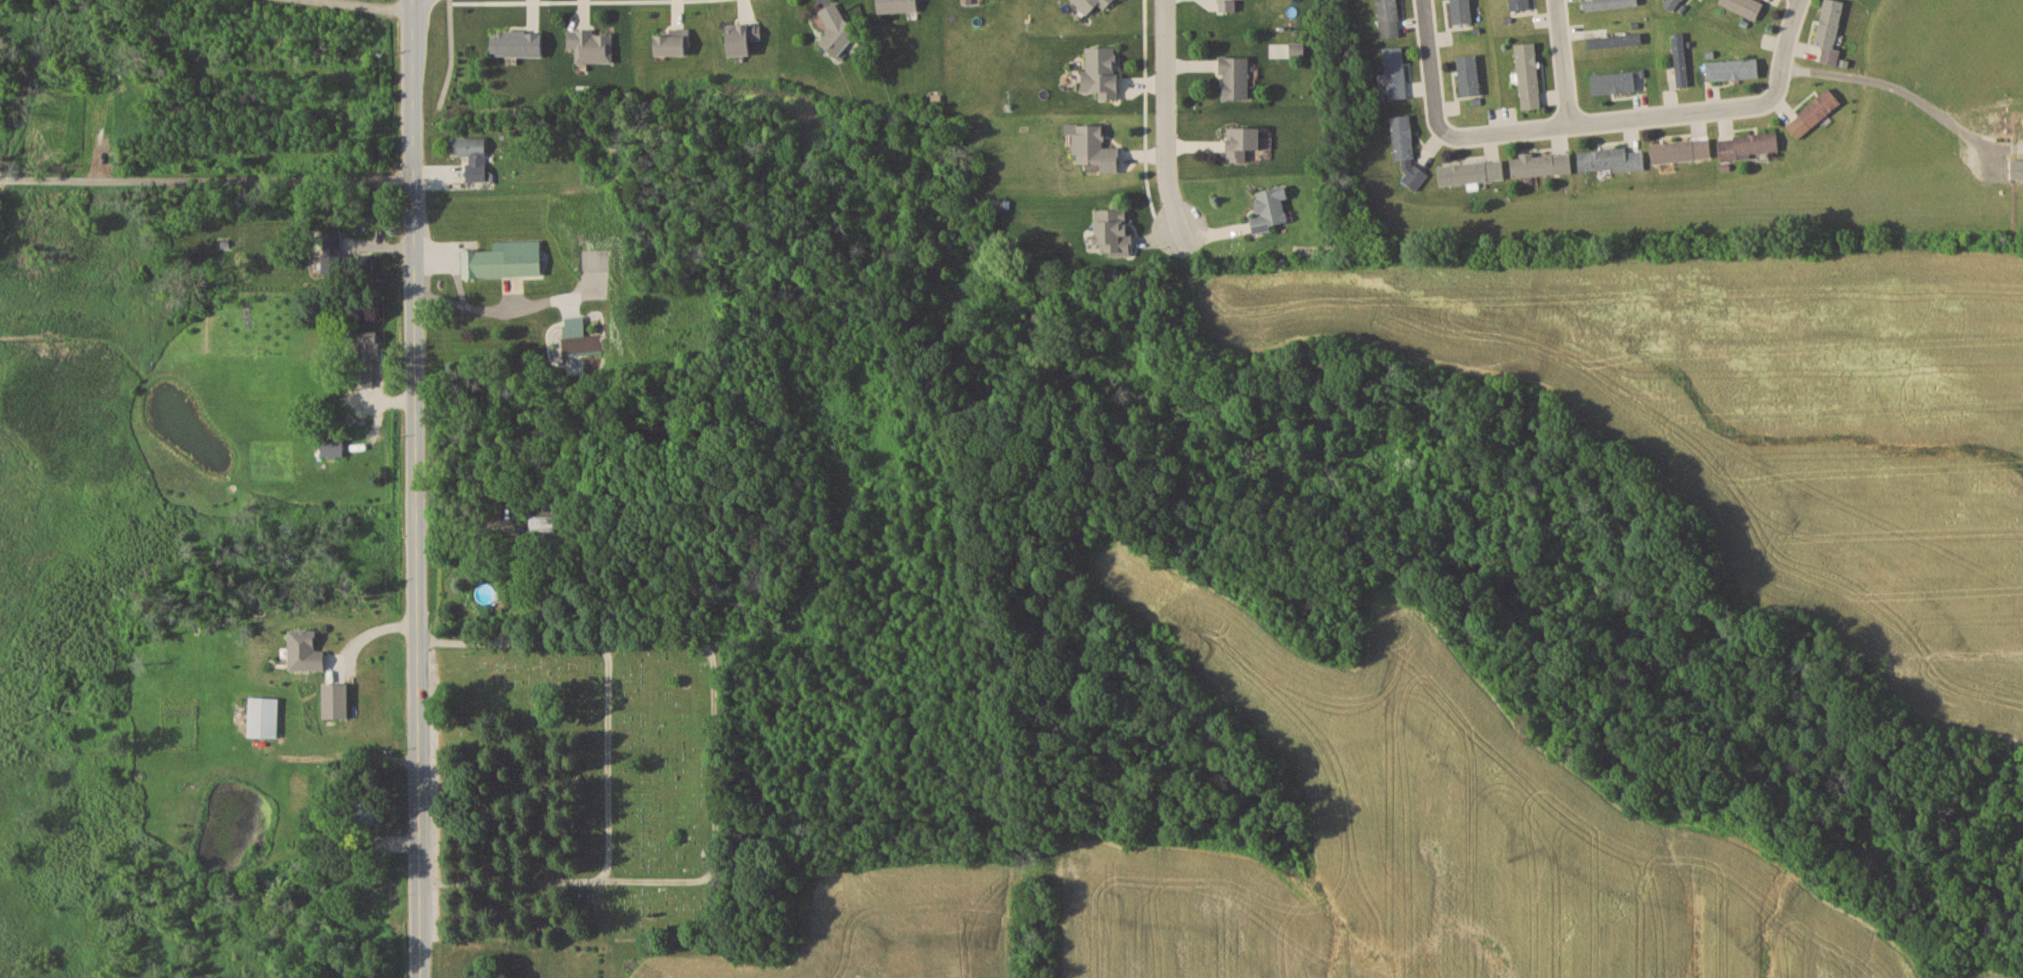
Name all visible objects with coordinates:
building: (968, 1)
building: (1607, 3)
road: (379, 4)
building: (1092, 4)
building: (1672, 4)
building: (897, 5)
building: (1227, 5)
building: (1743, 6)
building: (1388, 18)
building: (837, 29)
building: (1829, 30)
building: (743, 38)
building: (1613, 40)
building: (671, 44)
building: (592, 46)
road: (1783, 50)
road: (451, 58)
building: (1679, 59)
road: (1429, 60)
road: (1562, 62)
building: (1732, 69)
building: (1102, 71)
building: (1395, 72)
building: (1528, 75)
building: (1234, 77)
building: (1618, 81)
road: (1907, 93)
road: (1147, 105)
building: (1813, 113)
road: (1163, 115)
road: (1599, 120)
building: (1243, 142)
building: (1747, 144)
building: (1095, 148)
building: (1405, 149)
building: (1680, 150)
building: (472, 155)
building: (1609, 160)
building: (1542, 164)
building: (2016, 169)
building: (1470, 173)
road: (206, 177)
building: (1271, 208)
building: (1114, 232)
building: (331, 240)
building: (503, 259)
building: (346, 265)
road: (466, 307)
building: (574, 326)
building: (367, 346)
building: (359, 410)
building: (331, 447)
road: (415, 489)
building: (502, 493)
building: (543, 525)
building: (306, 651)
building: (263, 717)
road: (713, 756)
road: (607, 760)
park: (582, 782)
building: (368, 813)

